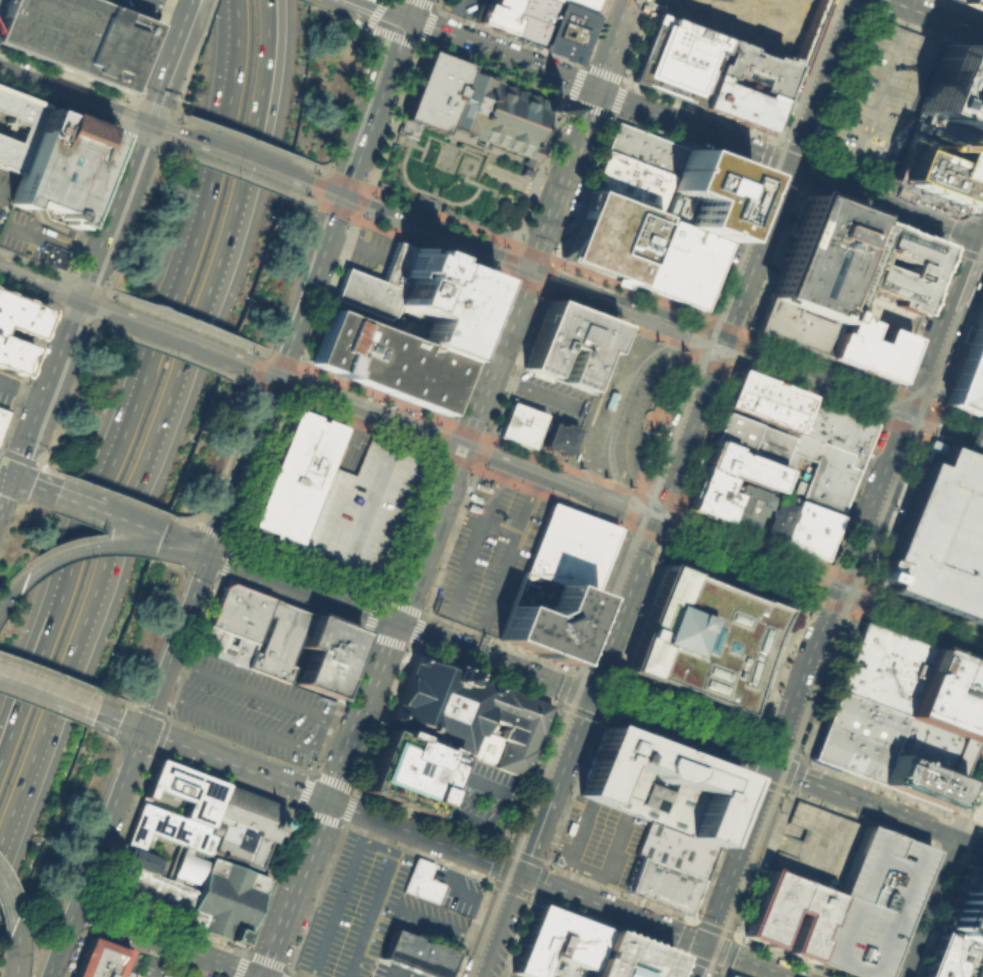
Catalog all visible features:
road: (307, 0)
building: (954, 0)
road: (153, 3)
building: (583, 4)
building: (972, 4)
road: (853, 5)
road: (869, 5)
parking lot: (140, 7)
parking lot: (461, 7)
road: (387, 8)
road: (174, 11)
building: (495, 14)
road: (454, 16)
road: (903, 16)
traffic signals: (409, 17)
road: (937, 17)
road: (203, 18)
building: (532, 20)
road: (363, 30)
building: (567, 30)
building: (77, 36)
building: (677, 58)
road: (168, 59)
building: (753, 67)
road: (798, 69)
road: (182, 77)
road: (614, 77)
road: (817, 82)
building: (955, 89)
road: (354, 90)
traffic signals: (595, 91)
road: (623, 91)
road: (84, 95)
building: (876, 97)
parking lot: (876, 97)
road: (871, 98)
railway: (83, 102)
building: (738, 103)
railway: (787, 104)
road: (152, 105)
building: (474, 107)
road: (171, 111)
road: (699, 111)
road: (173, 115)
traffic signals: (146, 120)
road: (785, 120)
road: (695, 128)
building: (27, 130)
building: (945, 132)
road: (453, 135)
road: (235, 136)
road: (394, 138)
road: (773, 139)
road: (481, 146)
building: (643, 147)
road: (472, 150)
road: (868, 150)
road: (466, 151)
road: (241, 155)
road: (527, 161)
railway: (240, 162)
traffic signals: (786, 164)
building: (60, 165)
road: (448, 166)
building: (933, 166)
road: (548, 168)
road: (228, 172)
road: (843, 172)
road: (335, 176)
building: (630, 182)
road: (519, 183)
parking lot: (5, 187)
road: (343, 189)
road: (4, 191)
road: (423, 192)
traffic signals: (342, 193)
road: (494, 194)
building: (703, 194)
road: (426, 206)
road: (766, 217)
road: (131, 222)
road: (495, 222)
parking lot: (20, 230)
building: (609, 236)
traffic signals: (977, 237)
road: (50, 242)
road: (354, 243)
road: (514, 246)
building: (51, 254)
parking lot: (367, 254)
road: (976, 256)
building: (818, 257)
road: (517, 259)
building: (678, 262)
traffic signals: (529, 264)
building: (394, 265)
building: (893, 265)
road: (86, 283)
road: (972, 284)
railway: (60, 288)
railway: (968, 288)
road: (103, 289)
building: (364, 294)
road: (59, 296)
road: (78, 298)
building: (442, 299)
road: (732, 302)
traffic signals: (77, 303)
railway: (627, 310)
building: (875, 312)
road: (180, 318)
road: (942, 323)
building: (792, 326)
building: (18, 330)
railway: (175, 331)
road: (407, 332)
railway: (713, 334)
traffic signals: (720, 336)
road: (172, 339)
road: (695, 339)
road: (959, 342)
building: (568, 345)
road: (442, 346)
building: (862, 347)
road: (167, 352)
railway: (243, 357)
road: (477, 359)
building: (383, 360)
road: (240, 365)
road: (735, 365)
building: (968, 371)
road: (815, 372)
road: (135, 376)
traffic signals: (274, 379)
road: (21, 391)
railway: (599, 395)
railway: (908, 395)
road: (65, 396)
parking lot: (549, 396)
building: (609, 399)
parking lot: (5, 400)
building: (764, 400)
road: (935, 406)
railway: (622, 407)
traffic signals: (910, 409)
railway: (637, 411)
building: (2, 417)
road: (159, 421)
road: (881, 421)
road: (946, 422)
building: (519, 424)
road: (913, 431)
railway: (911, 432)
road: (969, 435)
building: (557, 437)
building: (750, 437)
railway: (933, 437)
railway: (962, 438)
road: (352, 440)
road: (442, 441)
road: (954, 446)
traffic signals: (459, 448)
building: (829, 452)
road: (17, 457)
road: (37, 461)
road: (240, 465)
building: (738, 465)
road: (473, 469)
road: (6, 475)
building: (295, 476)
traffic signals: (13, 478)
road: (23, 481)
road: (443, 488)
road: (490, 492)
railway: (599, 493)
road: (6, 494)
building: (709, 495)
road: (114, 496)
road: (66, 497)
road: (549, 497)
road: (662, 502)
building: (747, 505)
road: (525, 506)
road: (896, 510)
building: (362, 512)
parking lot: (362, 512)
road: (870, 516)
building: (776, 517)
road: (884, 519)
road: (626, 520)
road: (475, 521)
road: (130, 522)
road: (649, 524)
traffic signals: (649, 524)
road: (355, 528)
building: (808, 529)
road: (645, 533)
building: (941, 537)
parking lot: (941, 537)
road: (175, 540)
road: (172, 544)
building: (568, 548)
parking lot: (568, 548)
road: (86, 549)
road: (199, 549)
traffic signals: (209, 553)
parking lot: (487, 554)
road: (743, 558)
road: (222, 568)
road: (739, 569)
road: (845, 576)
road: (220, 577)
road: (604, 577)
road: (817, 581)
railway: (873, 591)
road: (839, 593)
road: (865, 593)
road: (11, 594)
traffic signals: (841, 594)
road: (619, 604)
road: (835, 604)
road: (925, 606)
road: (860, 607)
building: (237, 610)
road: (425, 613)
building: (542, 616)
road: (856, 618)
road: (463, 619)
traffic signals: (393, 622)
road: (922, 624)
railway: (962, 631)
railway: (587, 633)
building: (277, 639)
building: (702, 639)
building: (224, 644)
road: (838, 644)
road: (408, 647)
road: (576, 649)
road: (584, 652)
building: (326, 653)
railway: (835, 657)
building: (881, 667)
road: (786, 669)
road: (571, 672)
road: (50, 673)
road: (28, 685)
road: (614, 686)
road: (828, 691)
road: (261, 692)
building: (947, 694)
traffic signals: (585, 695)
road: (596, 699)
road: (75, 704)
parking lot: (252, 707)
building: (468, 714)
road: (594, 718)
road: (118, 720)
road: (601, 720)
road: (246, 726)
traffic signals: (142, 729)
building: (855, 735)
building: (929, 746)
road: (800, 758)
road: (128, 764)
traffic signals: (775, 768)
building: (407, 770)
road: (750, 775)
road: (466, 777)
road: (332, 779)
building: (916, 780)
building: (657, 784)
road: (303, 789)
building: (184, 790)
road: (766, 790)
parking lot: (476, 795)
road: (800, 795)
railway: (772, 799)
traffic signals: (326, 800)
road: (347, 806)
road: (978, 807)
road: (978, 812)
road: (318, 816)
road: (883, 820)
road: (478, 822)
railway: (528, 822)
building: (243, 825)
road: (967, 825)
road: (978, 827)
building: (166, 829)
road: (380, 838)
road: (552, 840)
parking lot: (598, 842)
road: (4, 843)
building: (816, 845)
parking lot: (816, 845)
road: (501, 846)
road: (574, 846)
road: (4, 849)
building: (673, 849)
road: (466, 853)
road: (956, 855)
building: (142, 859)
building: (556, 859)
road: (610, 859)
building: (187, 867)
road: (943, 870)
traffic signals: (516, 872)
road: (585, 872)
building: (421, 881)
building: (663, 885)
parking lot: (455, 888)
building: (149, 891)
road: (5, 895)
road: (531, 895)
road: (97, 896)
road: (339, 896)
building: (222, 899)
road: (854, 899)
road: (374, 902)
building: (870, 904)
parking lot: (870, 904)
road: (943, 906)
building: (965, 907)
parking lot: (367, 910)
road: (576, 913)
road: (431, 921)
road: (496, 924)
building: (763, 924)
road: (712, 927)
road: (683, 935)
road: (16, 937)
road: (164, 942)
building: (557, 945)
traffic signals: (708, 945)
road: (730, 953)
road: (75, 954)
road: (147, 954)
building: (415, 954)
building: (628, 958)
building: (952, 958)
road: (154, 959)
road: (266, 959)
building: (101, 960)
road: (700, 961)
road: (239, 963)
road: (200, 966)
road: (398, 970)
parking lot: (155, 971)
road: (729, 972)
road: (826, 972)
road: (286, 973)
parking lot: (381, 973)
road: (14, 974)
parking lot: (514, 975)
road: (782, 975)
building: (728, 976)

